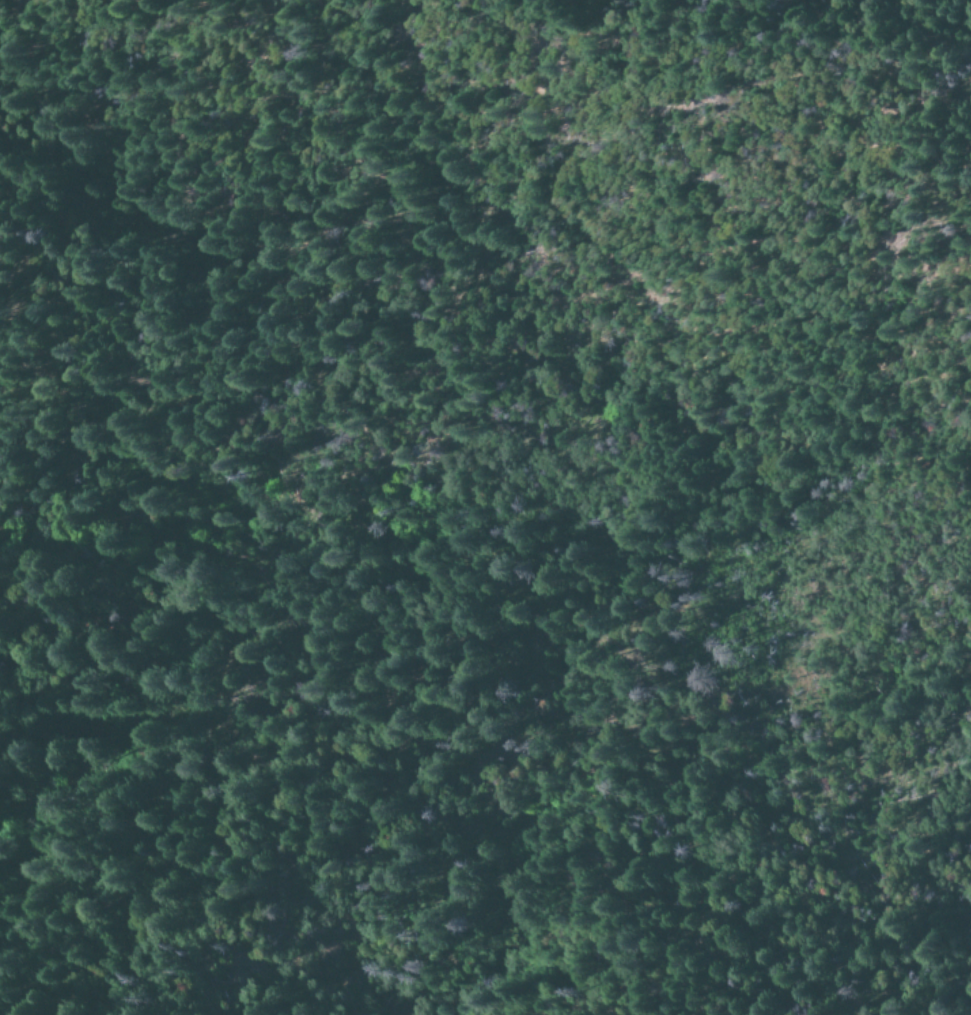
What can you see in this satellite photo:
road: (738, 256)

